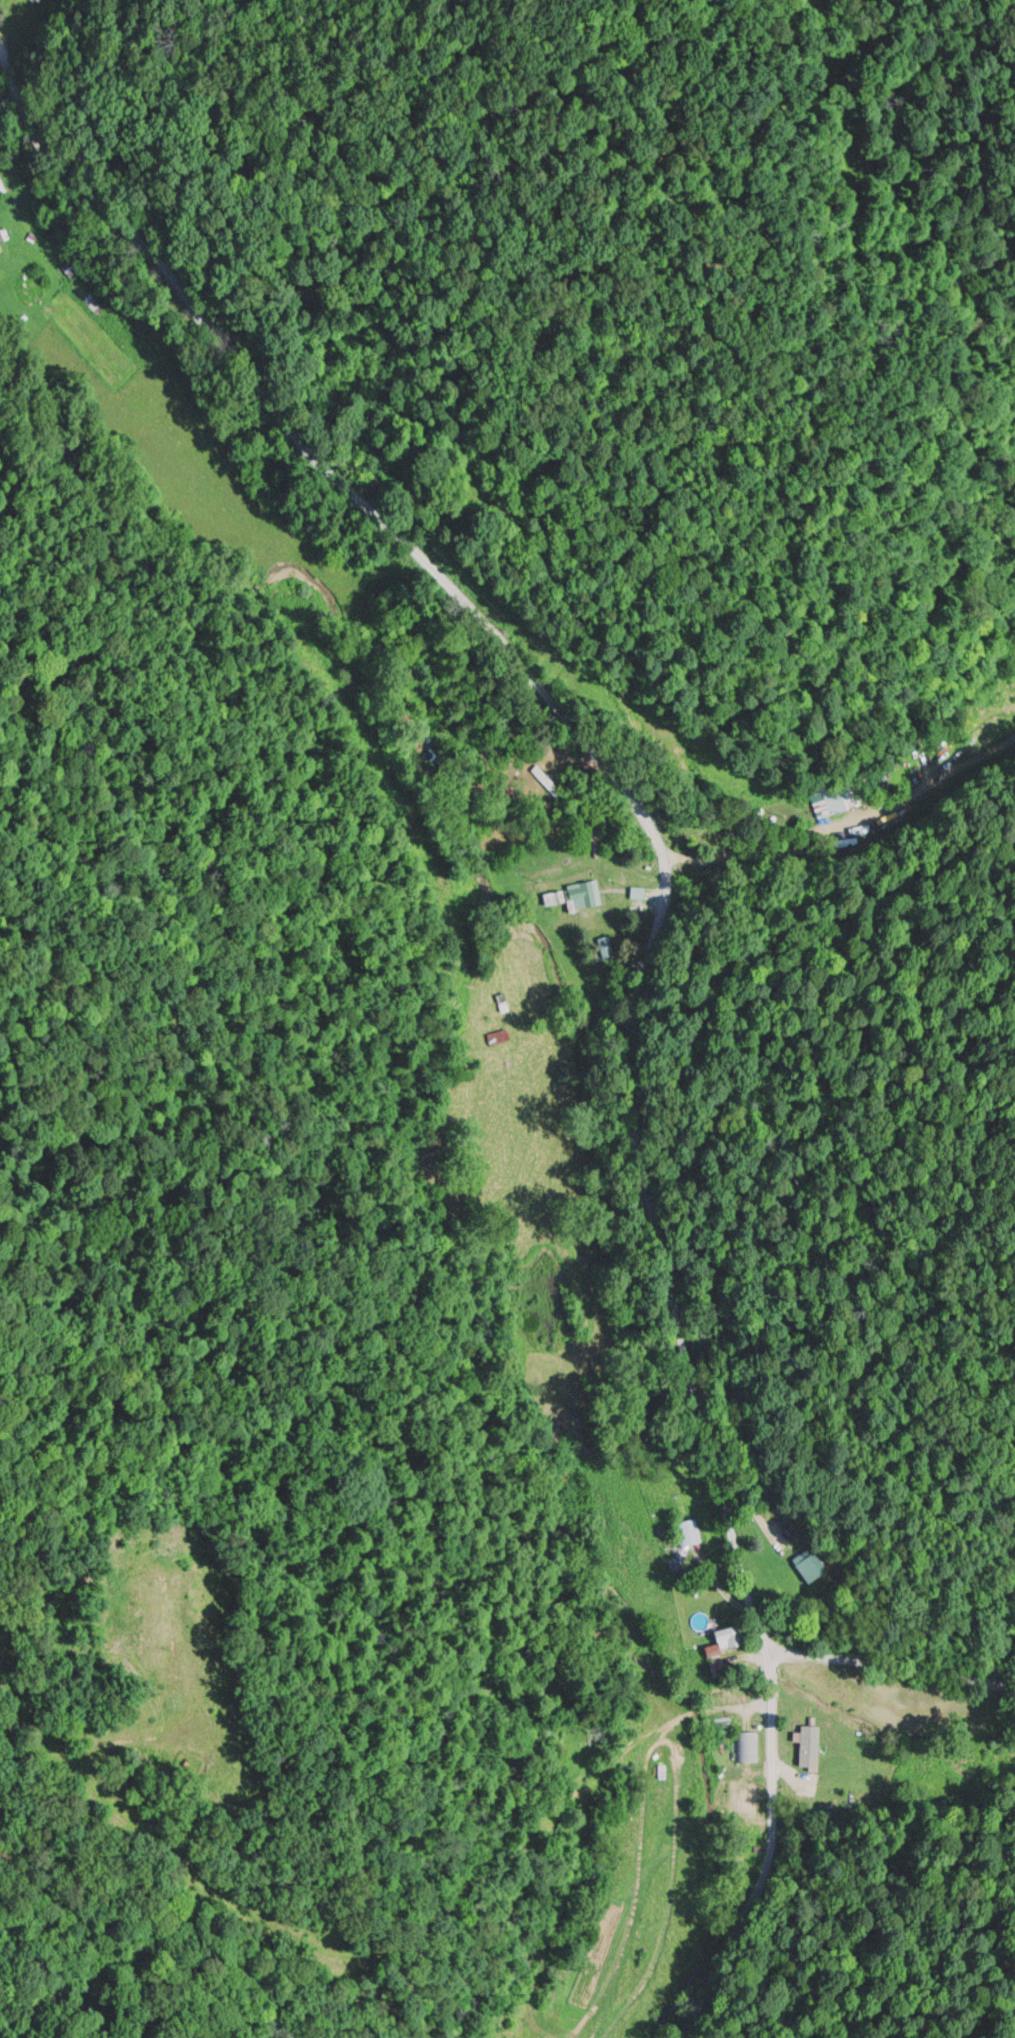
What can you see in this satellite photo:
building: (3, 185)
building: (92, 297)
building: (857, 796)
building: (588, 894)
road: (655, 933)
building: (611, 950)
building: (691, 1532)
building: (813, 1565)
building: (730, 1639)
road: (893, 1664)
building: (842, 1680)
building: (808, 1726)
building: (751, 1745)
building: (815, 1764)
building: (617, 1965)

